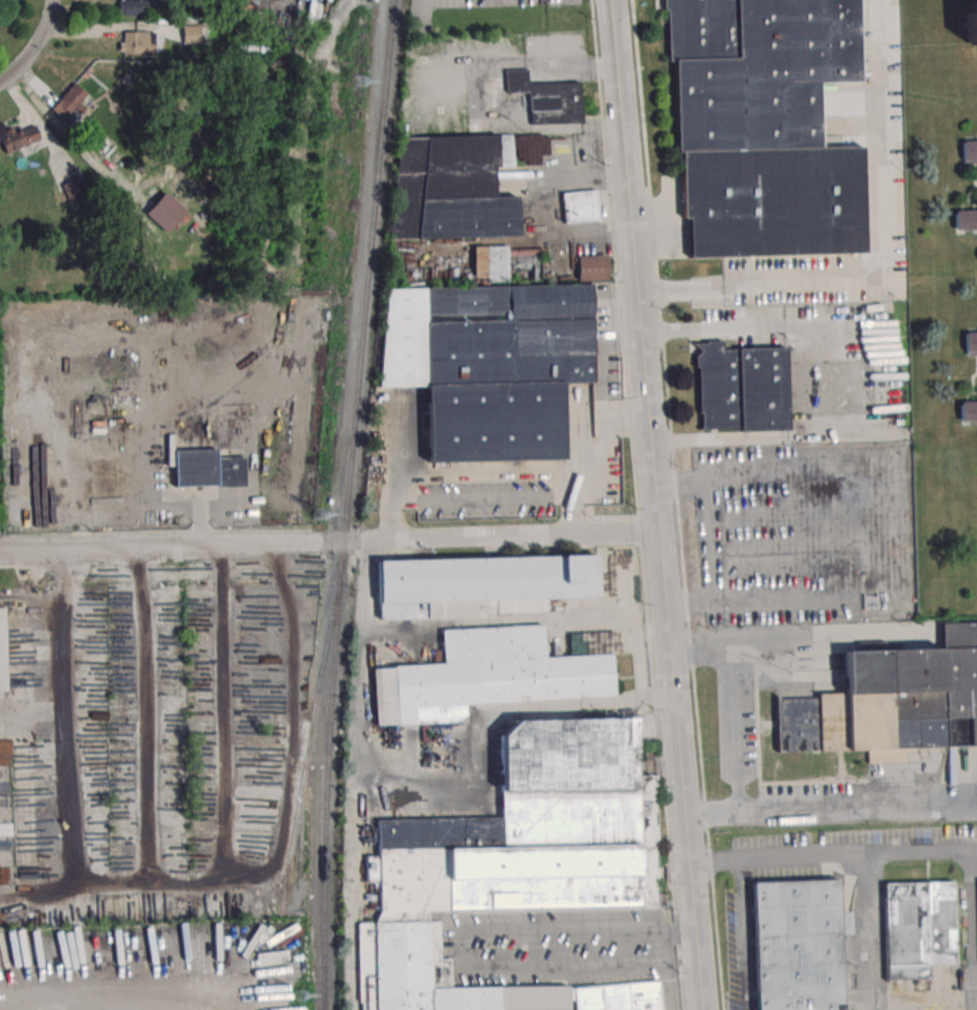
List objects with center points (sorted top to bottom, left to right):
building: (135, 7)
building: (972, 24)
building: (190, 34)
building: (136, 43)
road: (34, 46)
power tower: (358, 82)
building: (75, 95)
building: (549, 102)
building: (762, 125)
building: (19, 137)
building: (102, 147)
building: (969, 151)
building: (450, 189)
building: (580, 207)
building: (164, 212)
building: (966, 219)
building: (490, 263)
road: (886, 263)
building: (592, 268)
building: (971, 342)
building: (489, 366)
road: (606, 366)
road: (833, 377)
building: (742, 387)
building: (968, 410)
road: (606, 444)
building: (208, 465)
road: (672, 472)
road: (482, 474)
railway: (347, 504)
road: (655, 504)
power tower: (318, 515)
road: (884, 525)
parking lot: (797, 532)
road: (329, 541)
building: (479, 587)
road: (683, 597)
road: (514, 620)
road: (822, 640)
building: (1, 653)
road: (60, 656)
building: (485, 677)
building: (892, 709)
railway: (307, 750)
road: (434, 786)
road: (830, 808)
road: (832, 857)
building: (519, 869)
road: (254, 873)
road: (970, 900)
road: (865, 917)
building: (917, 930)
road: (678, 933)
road: (745, 935)
building: (796, 946)
road: (463, 954)
road: (105, 992)
railway: (323, 995)
power tower: (298, 998)

